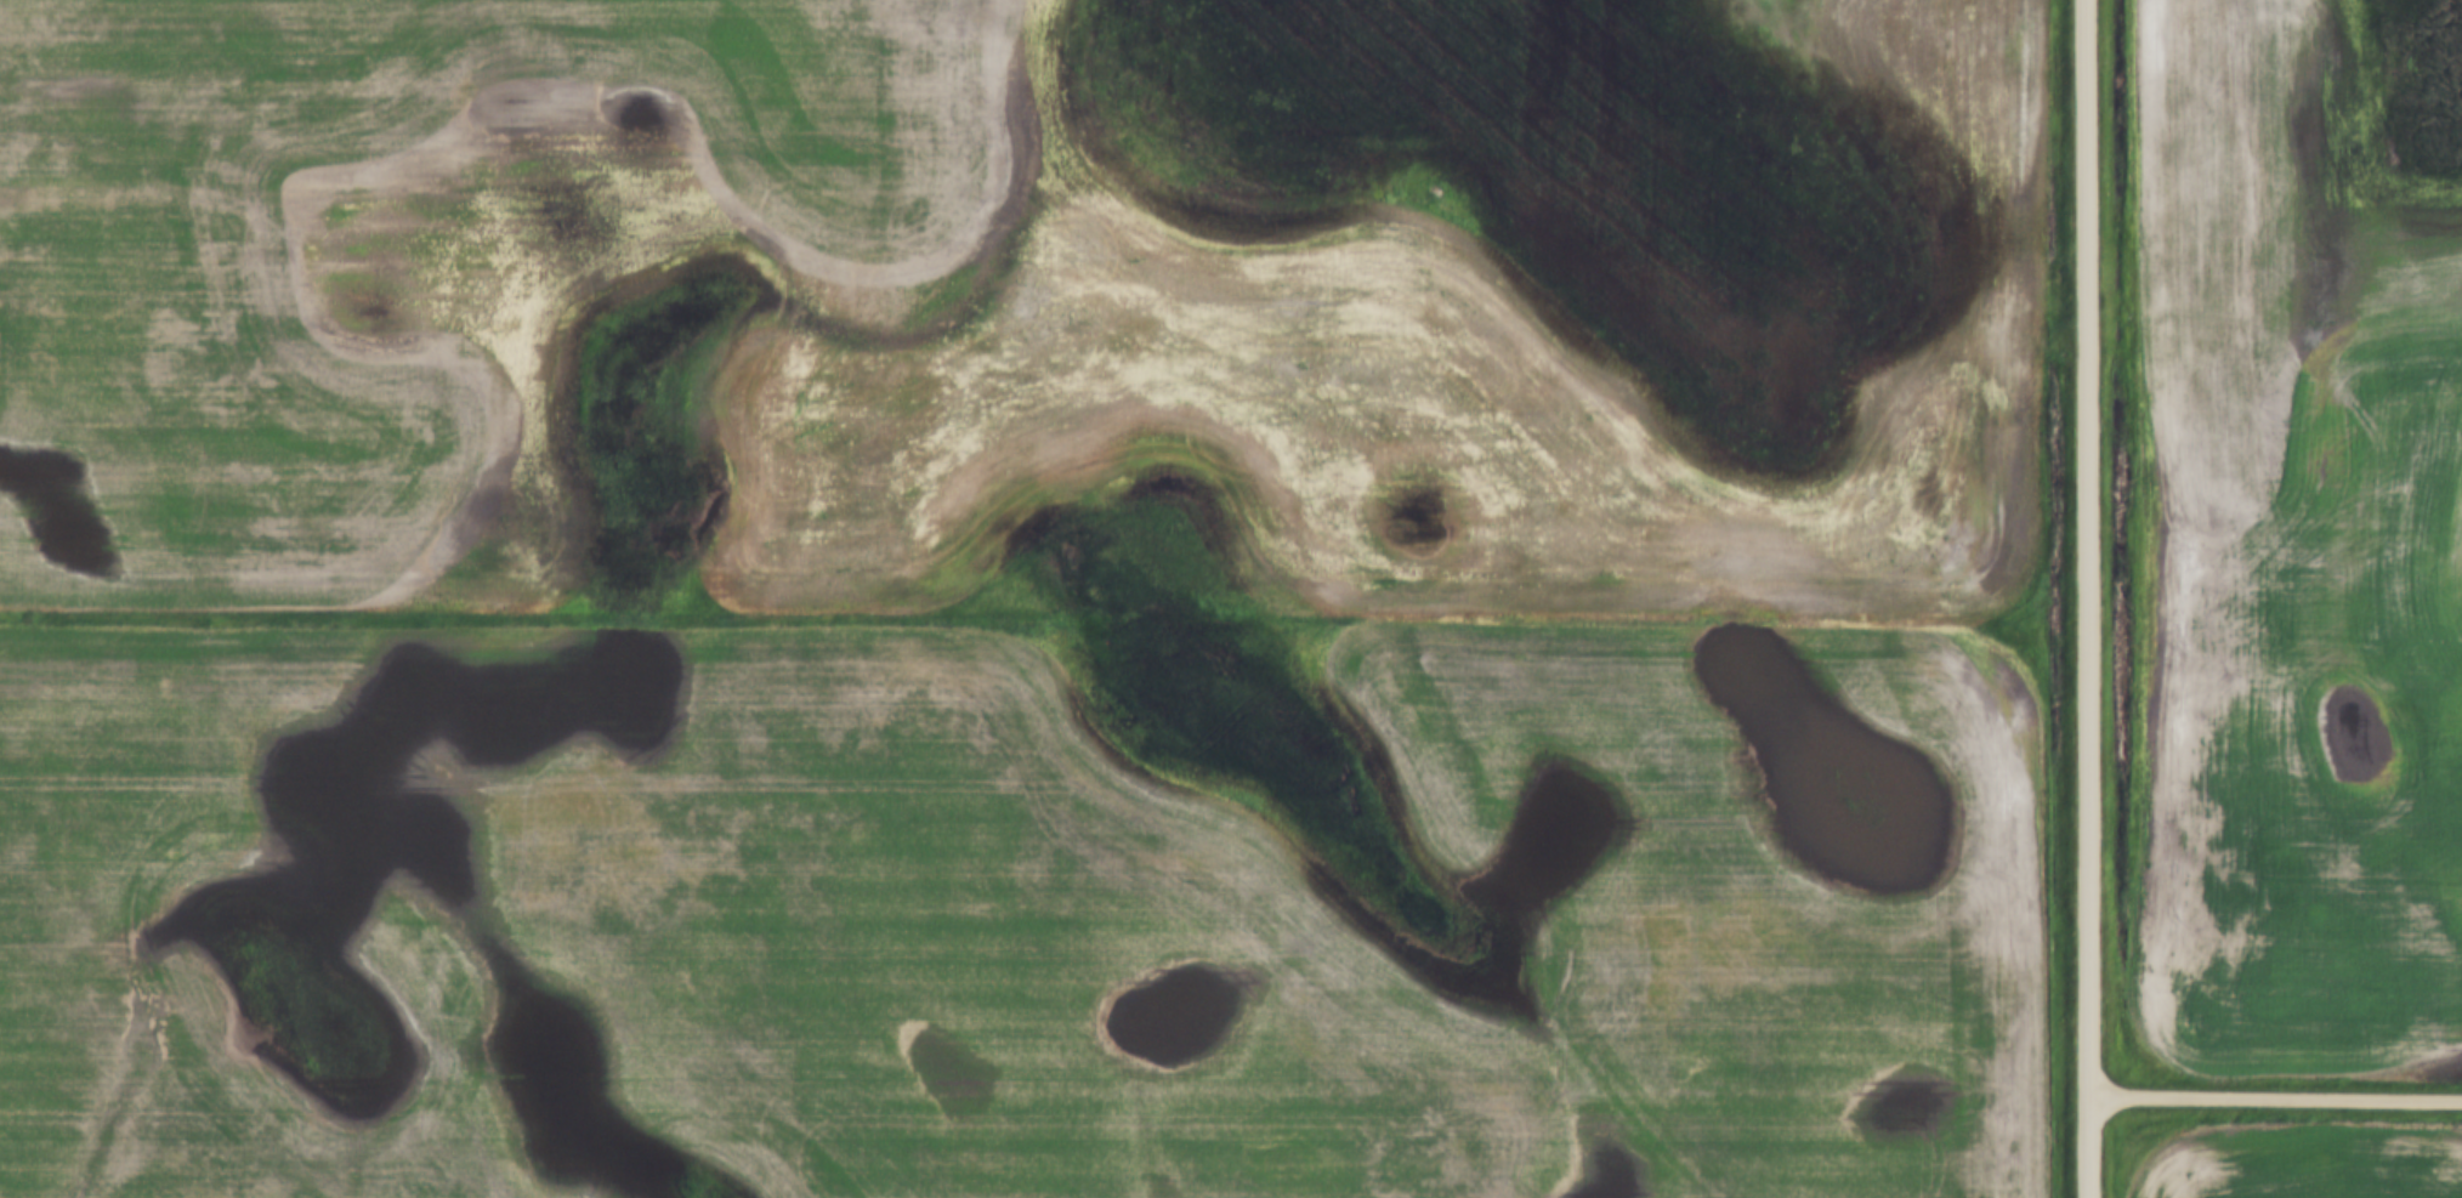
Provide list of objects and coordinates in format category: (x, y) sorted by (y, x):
road: (2084, 598)
road: (2274, 1101)

